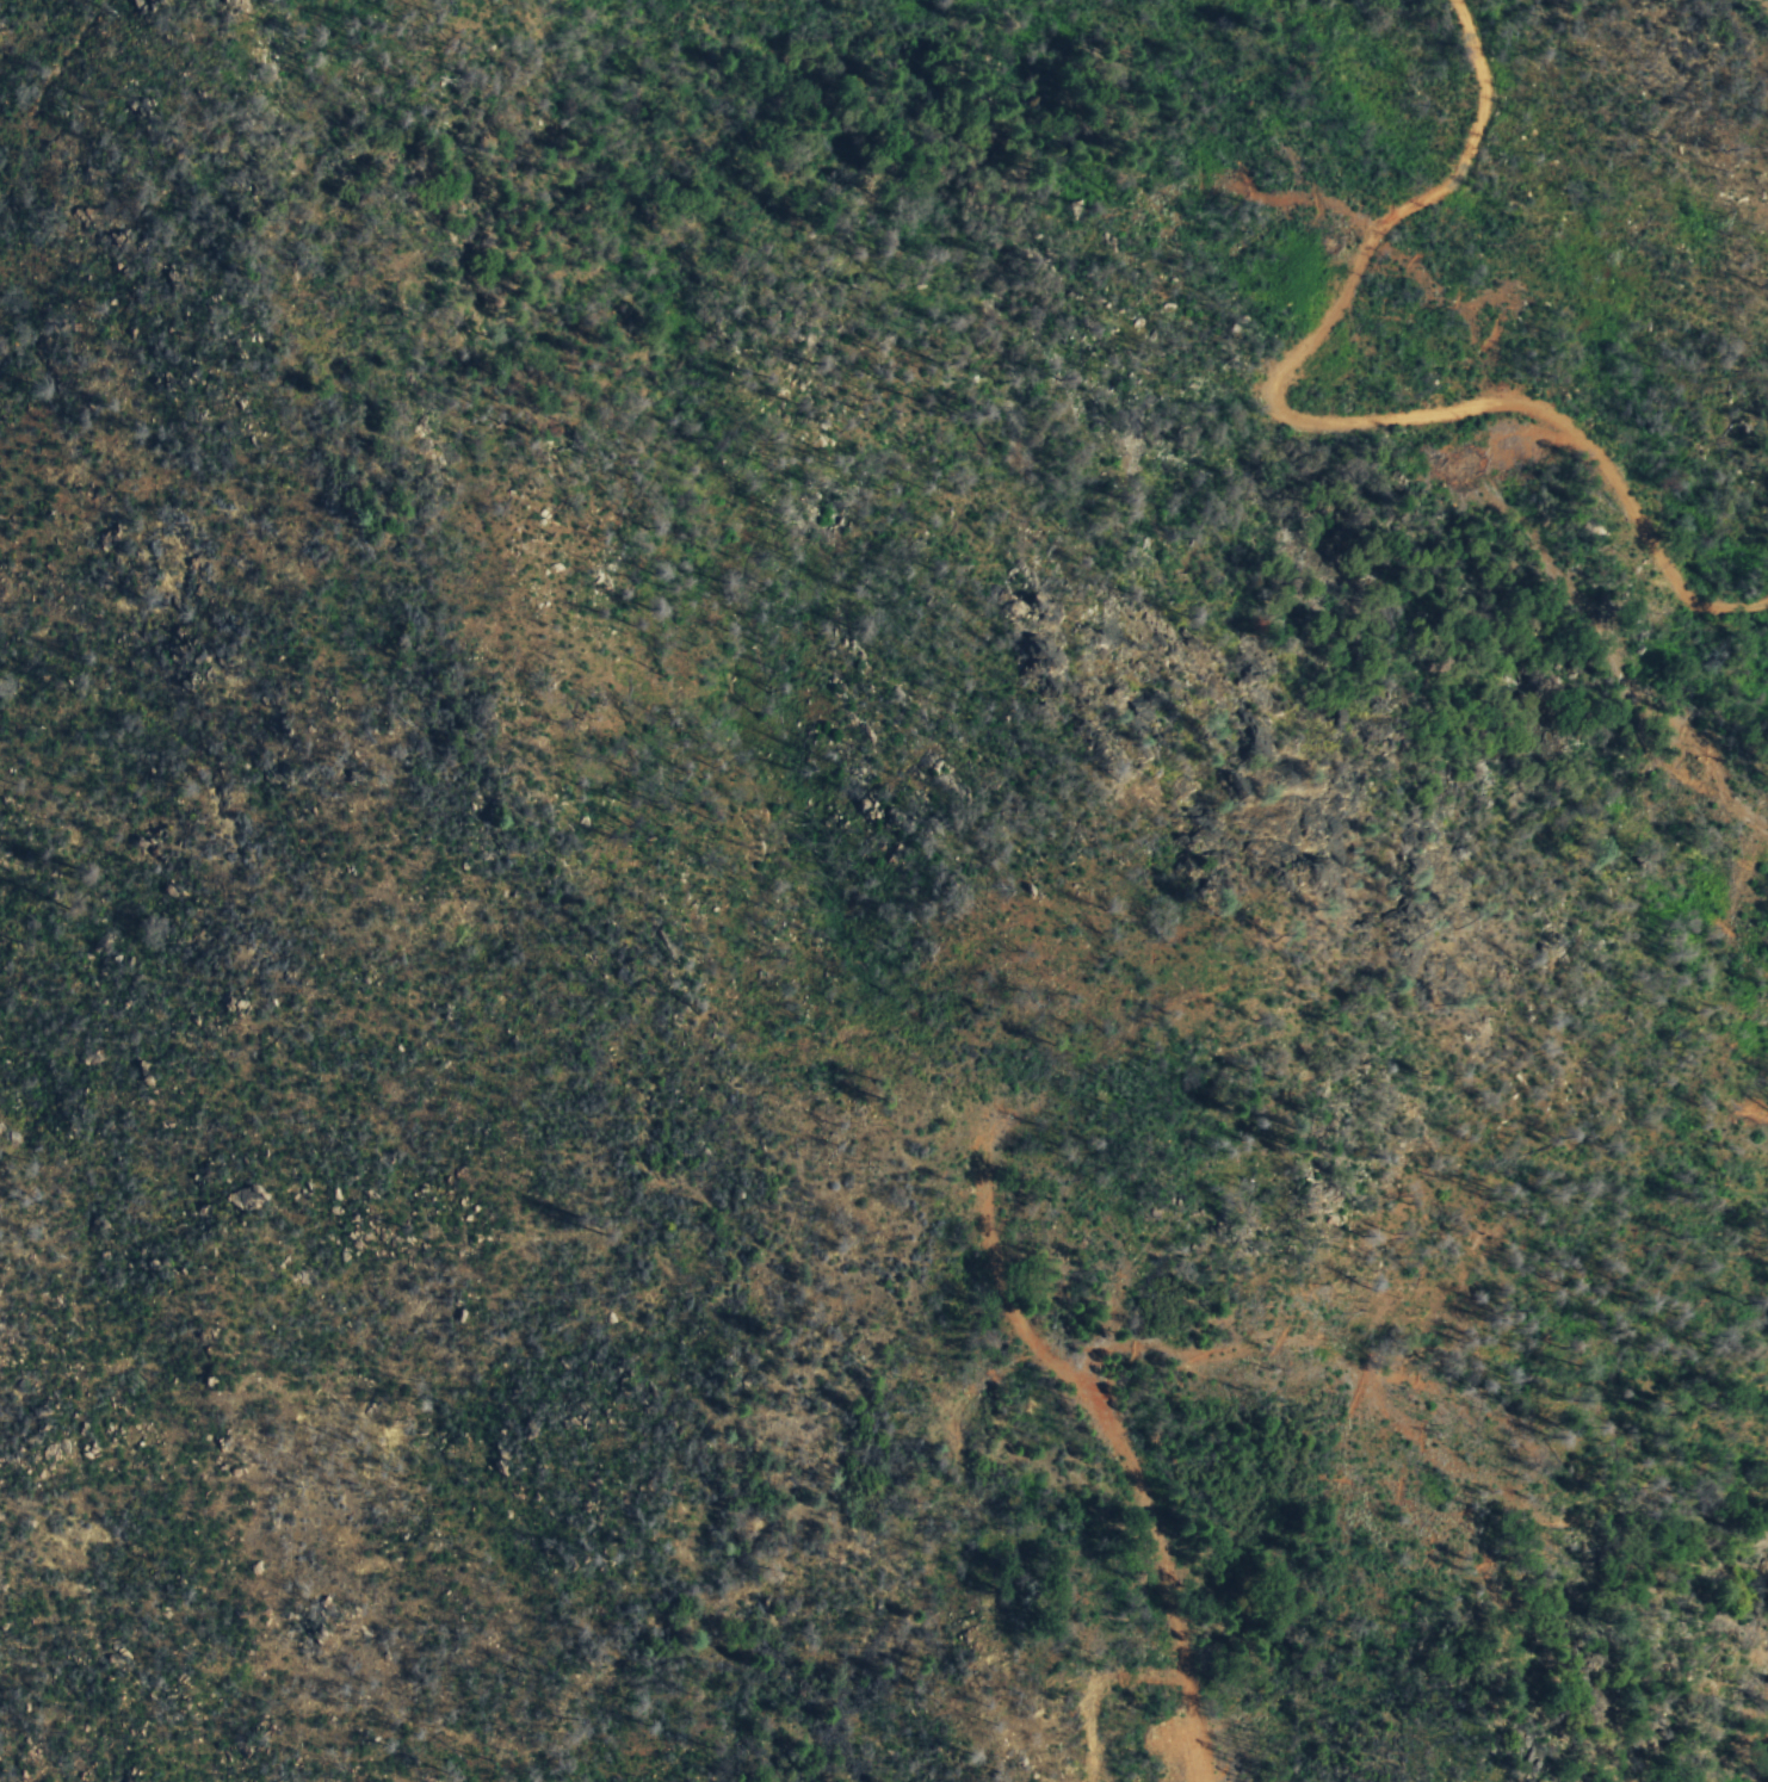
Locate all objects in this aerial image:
road: (1348, 397)

